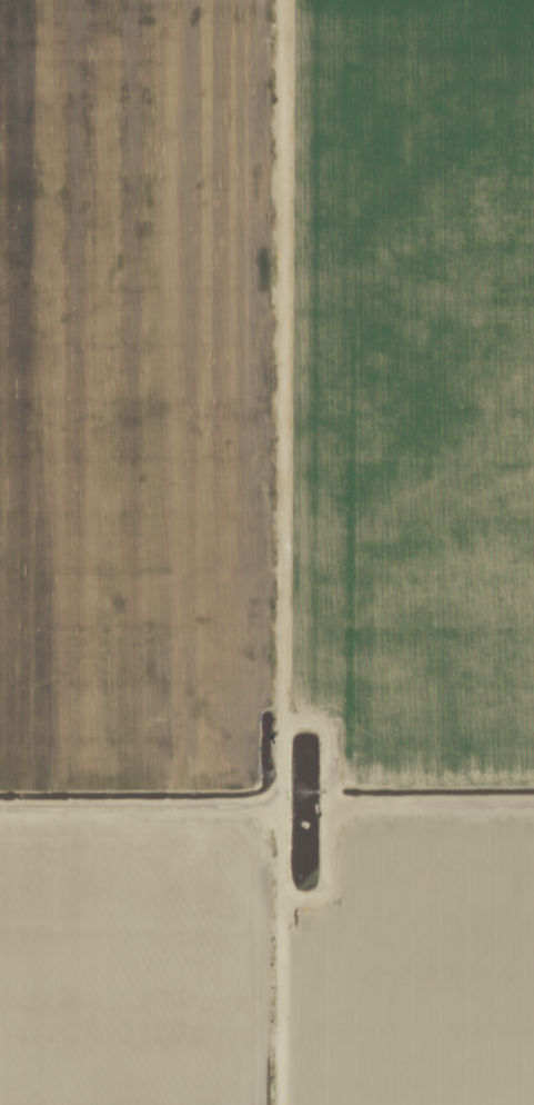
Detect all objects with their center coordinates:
crop: (266, 552)

